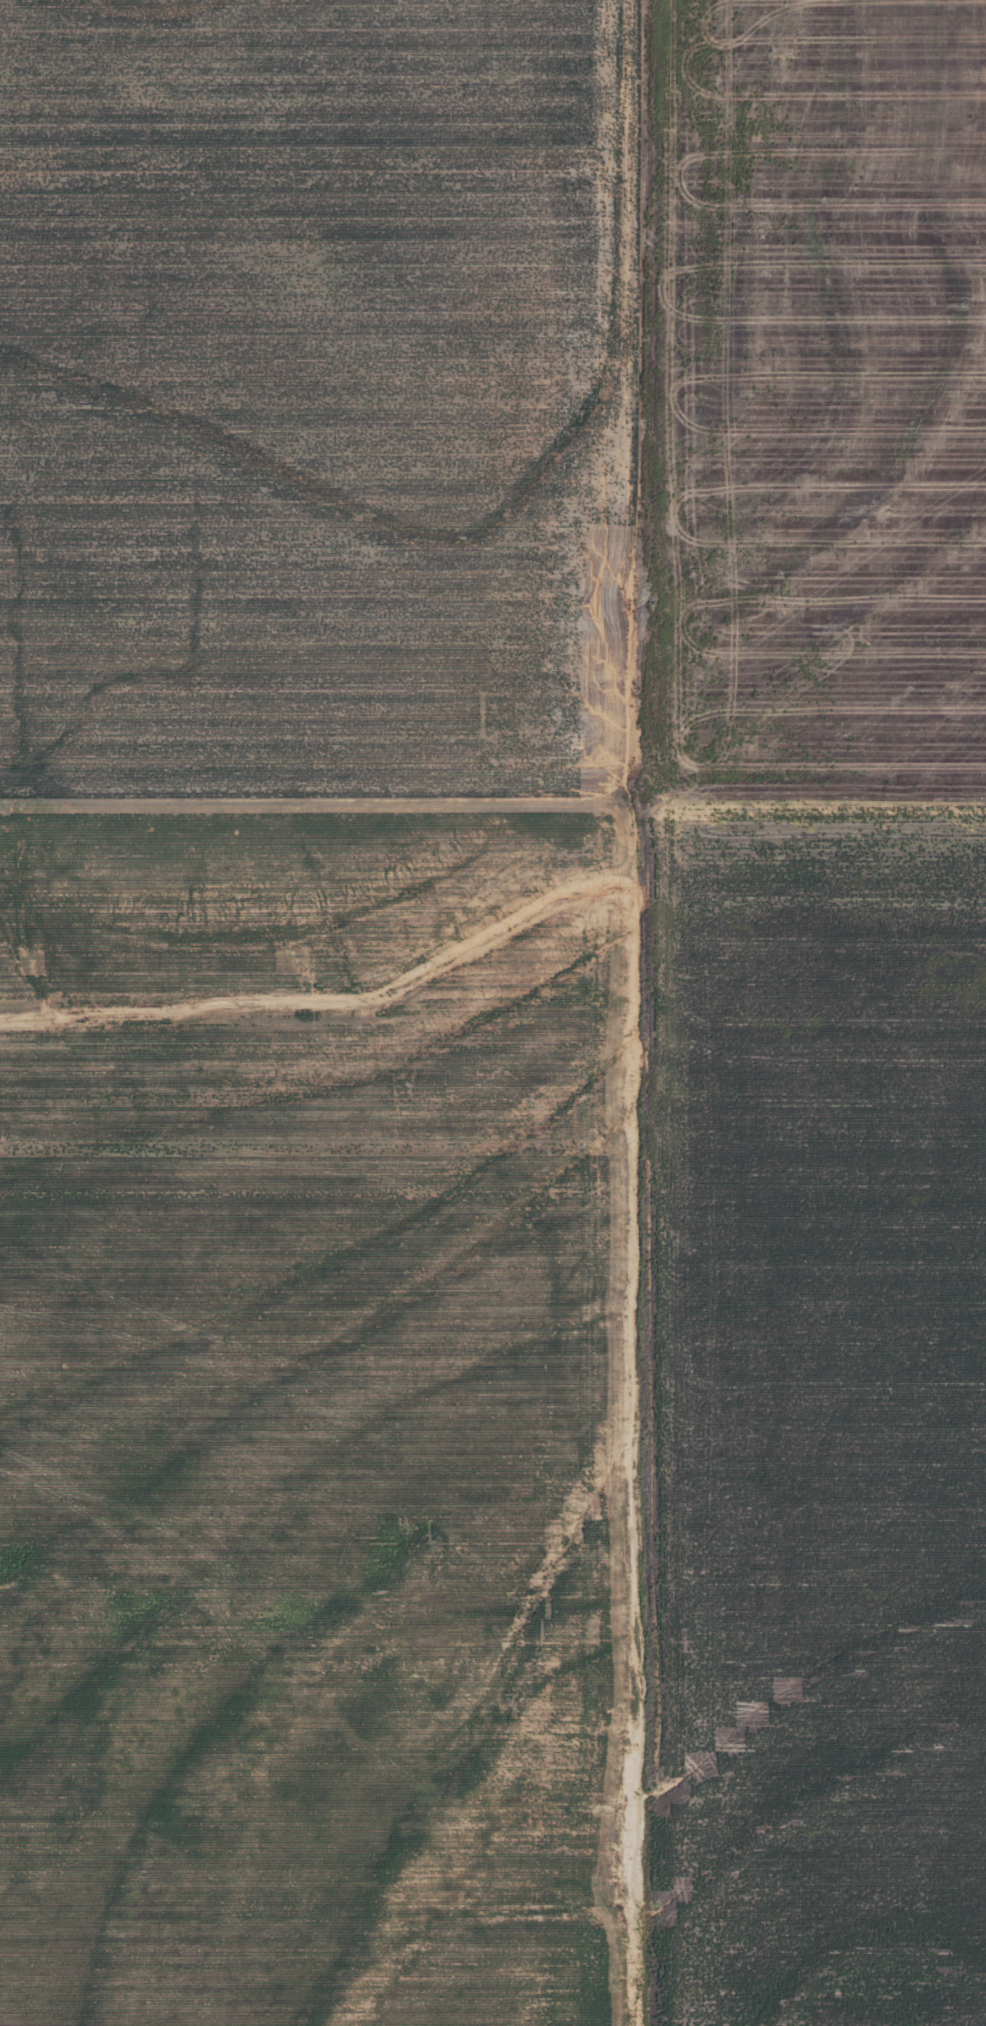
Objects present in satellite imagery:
road: (811, 160)

